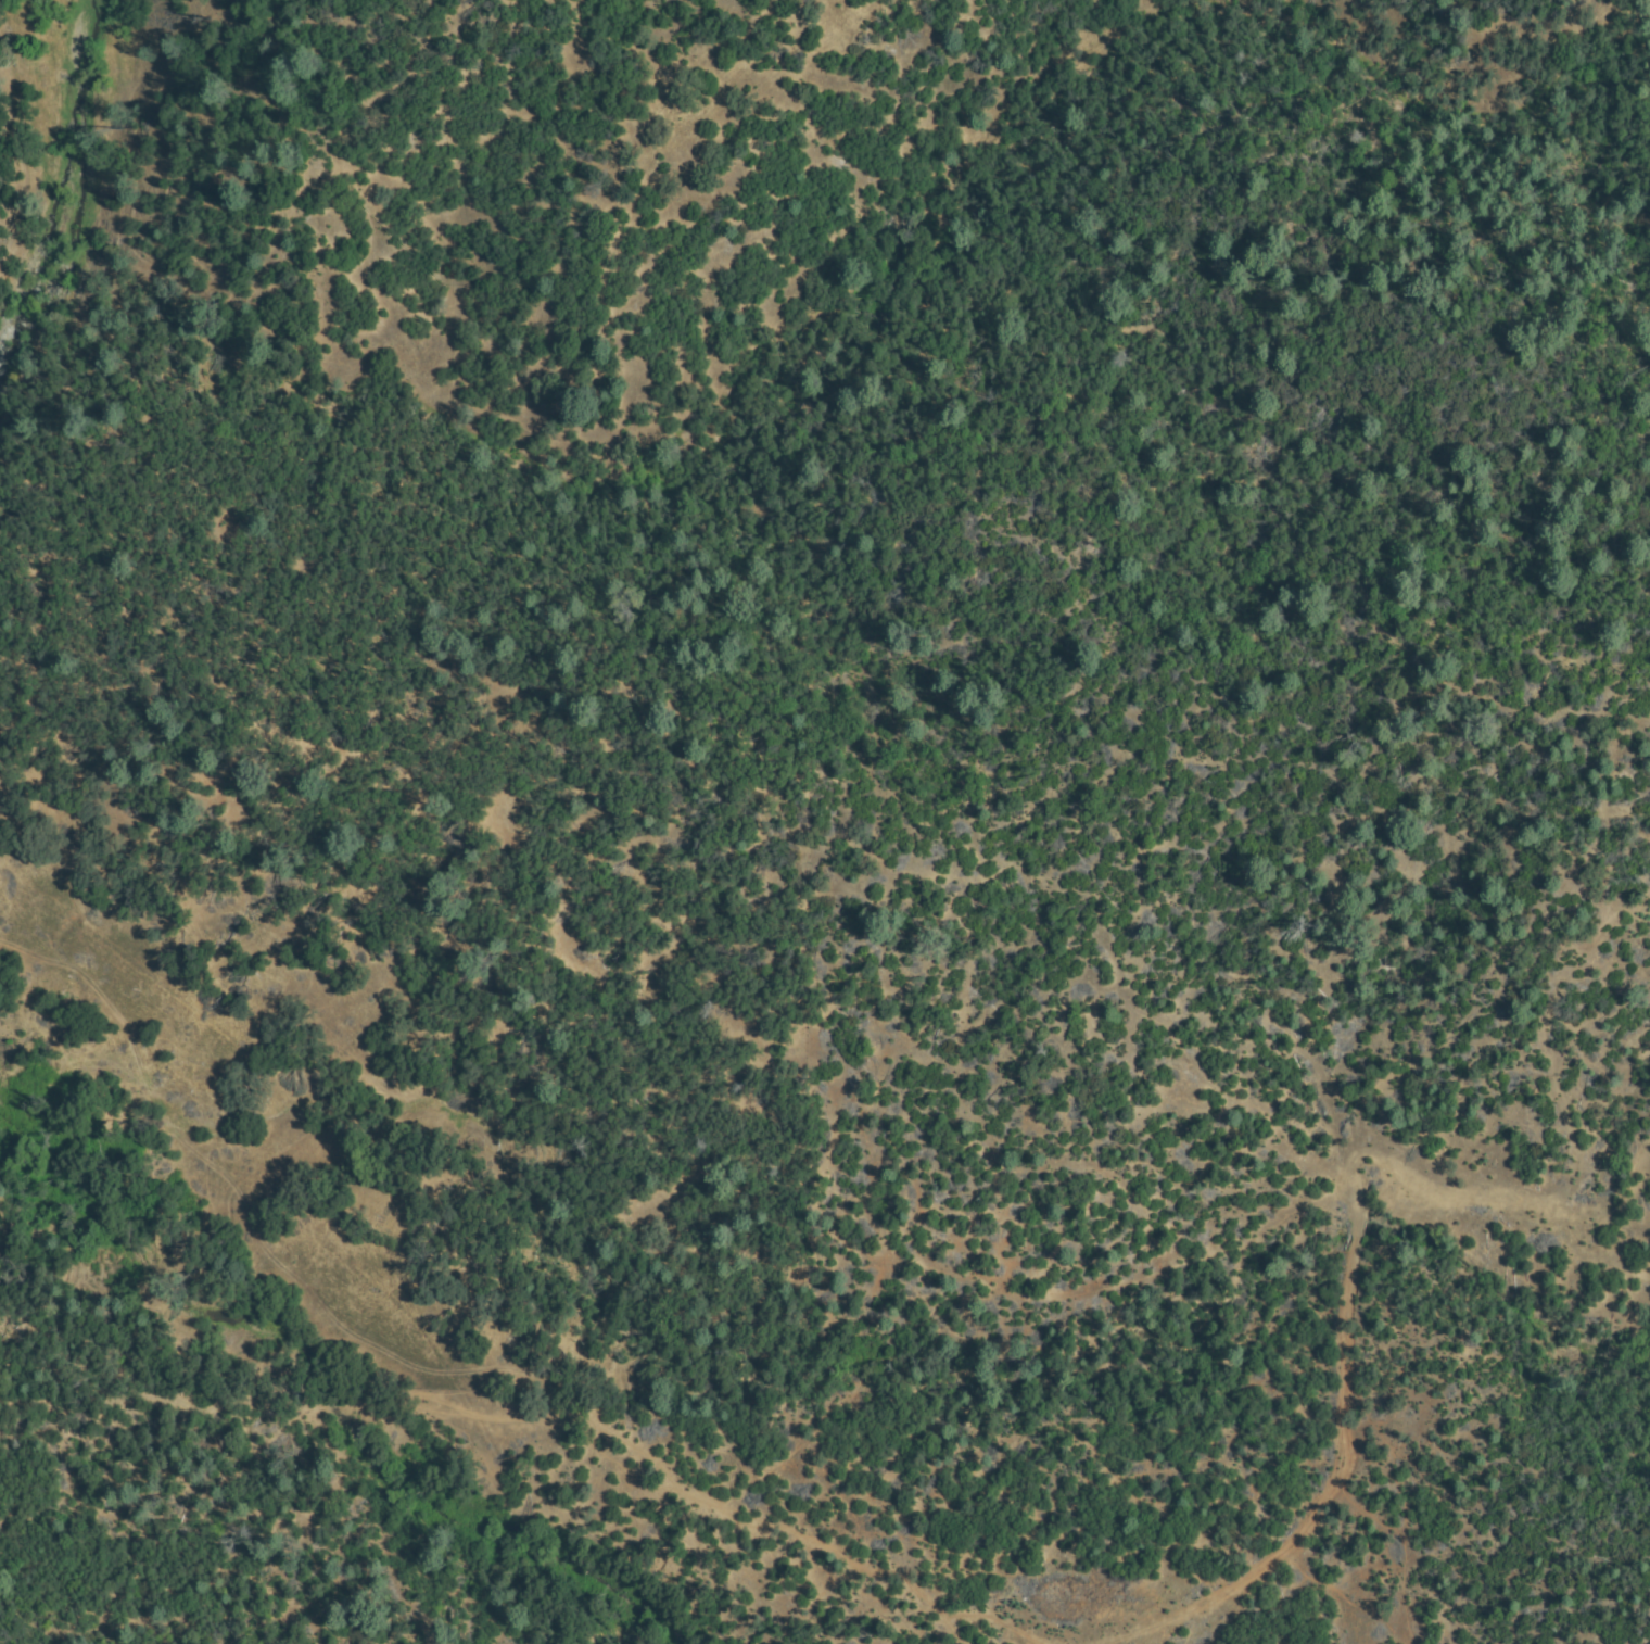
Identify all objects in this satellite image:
road: (52, 140)

